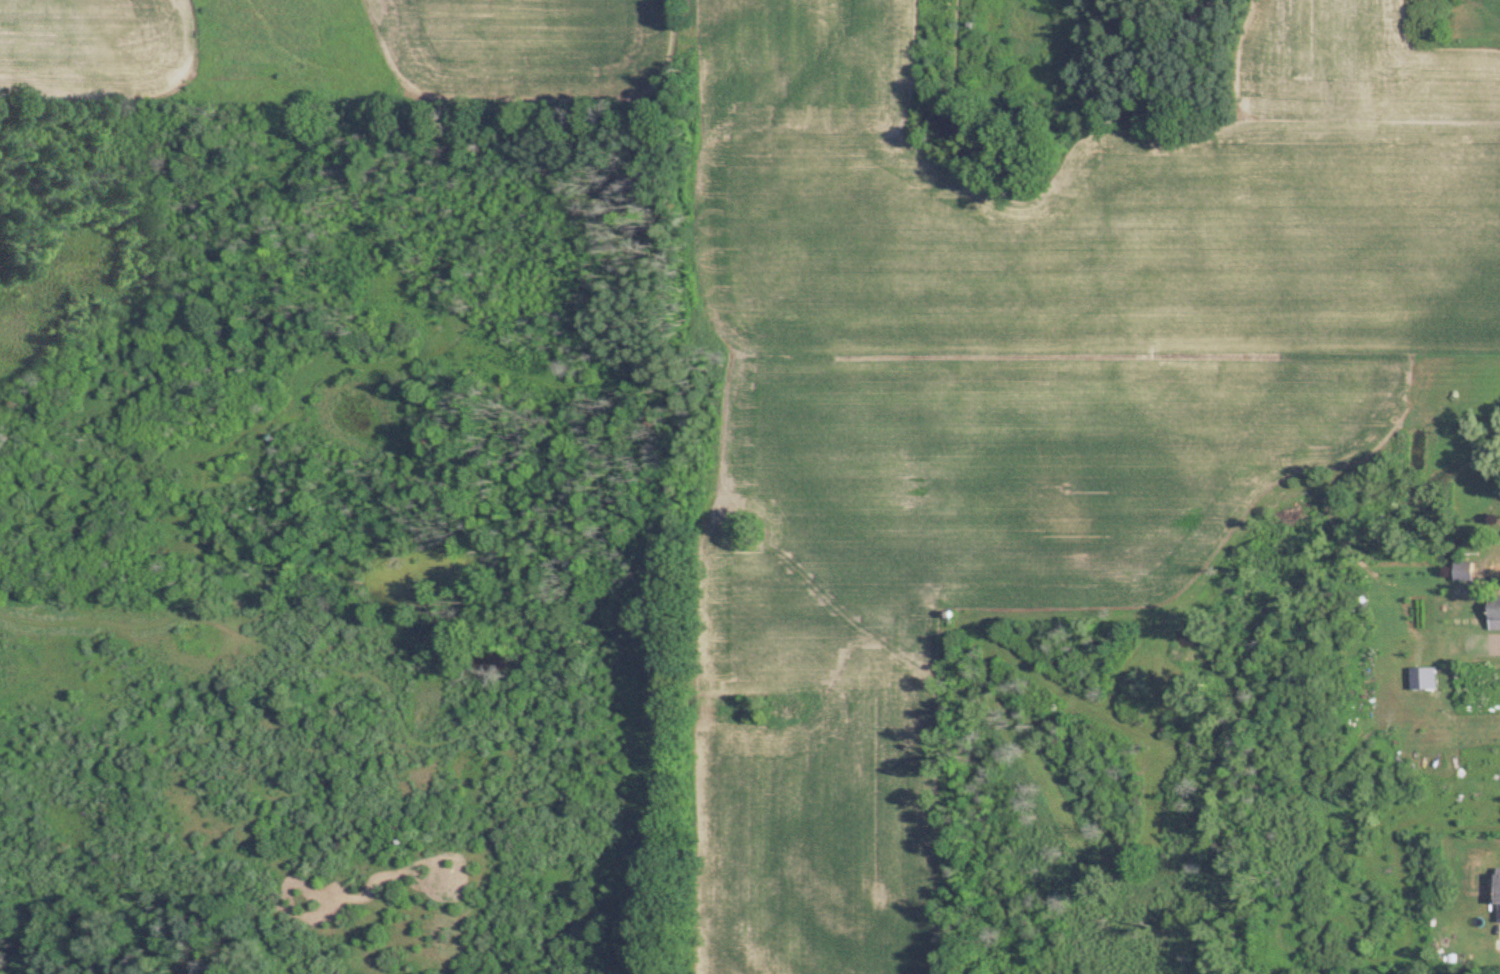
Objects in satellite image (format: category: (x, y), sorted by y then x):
building: (227, 583)
building: (1495, 893)

